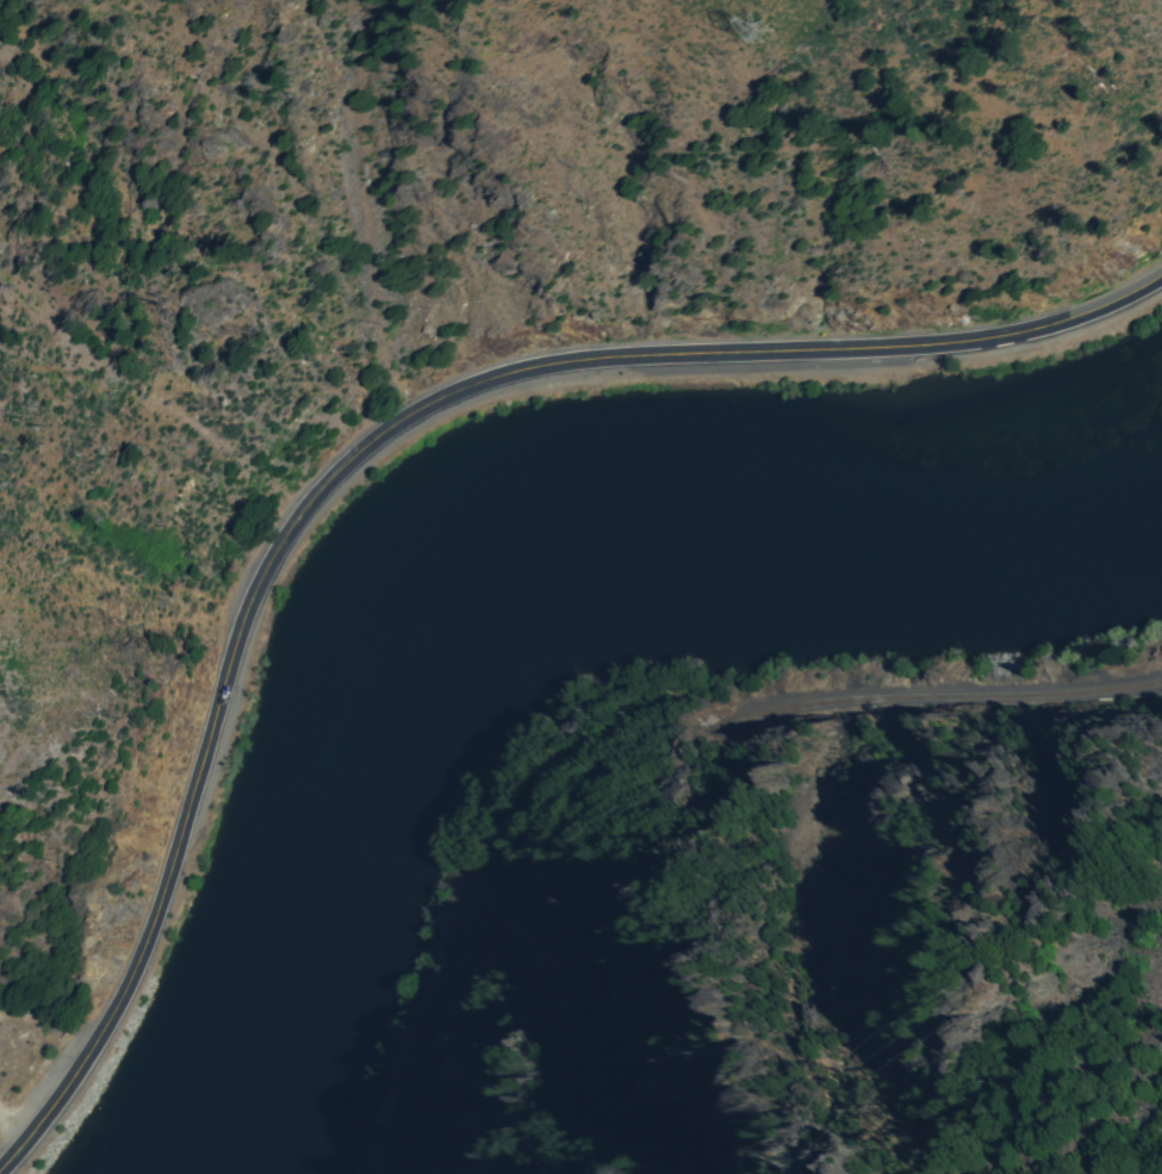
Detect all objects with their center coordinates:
power tower: (760, 27)
road: (366, 445)
river: (1118, 468)
river: (465, 614)
railway: (934, 696)
power tower: (971, 998)
railway: (445, 1010)
power tower: (804, 1154)

